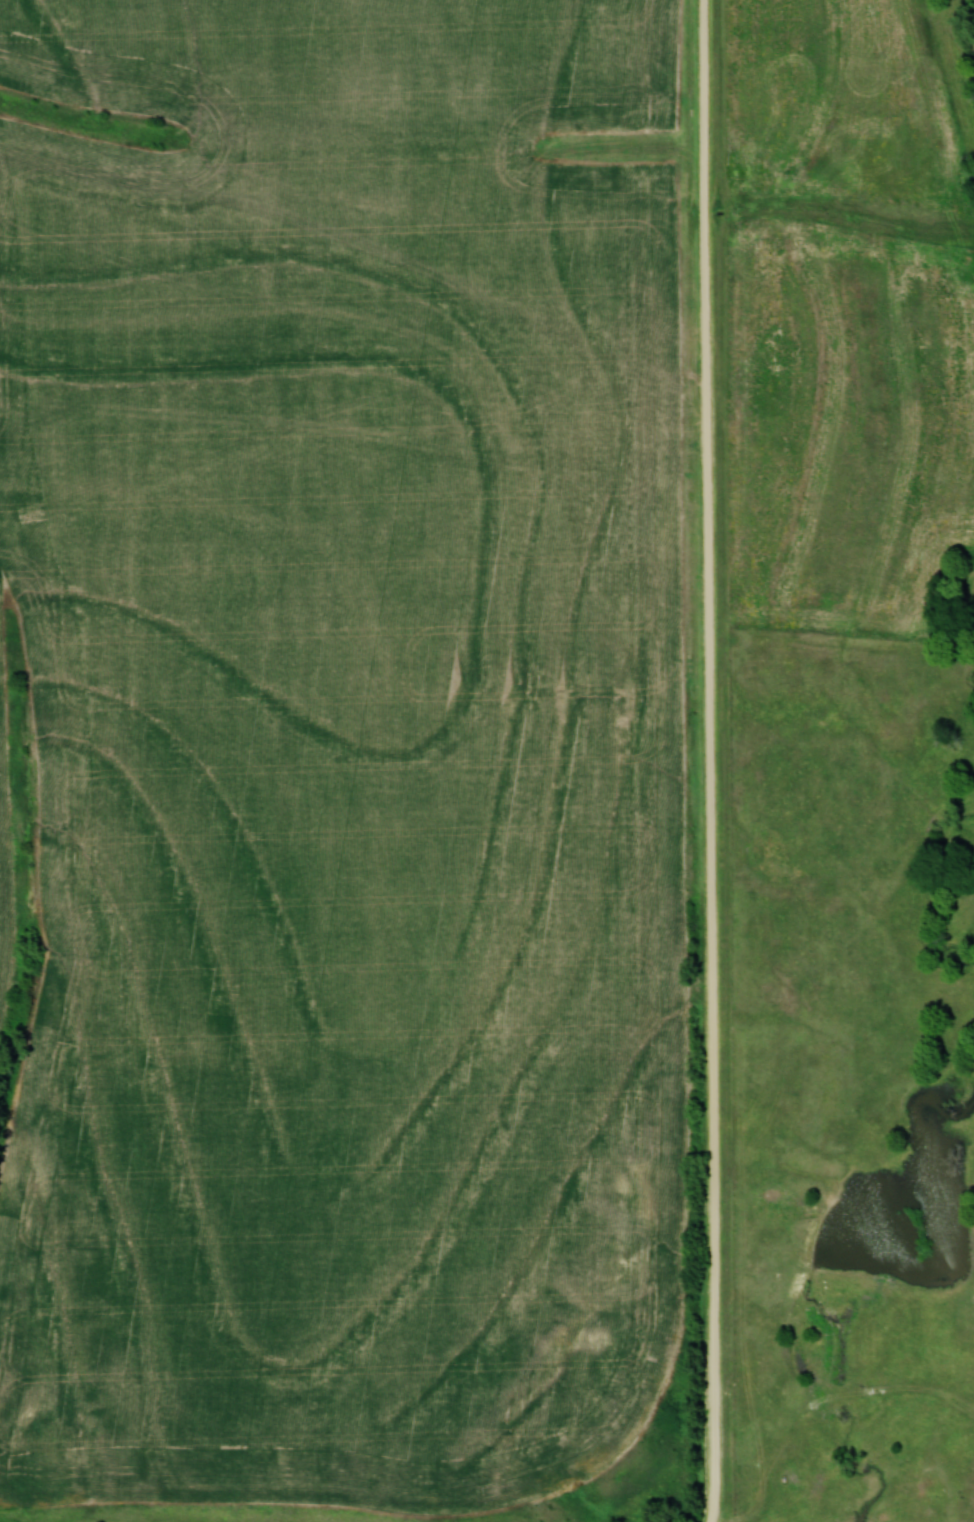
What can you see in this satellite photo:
road: (713, 761)

